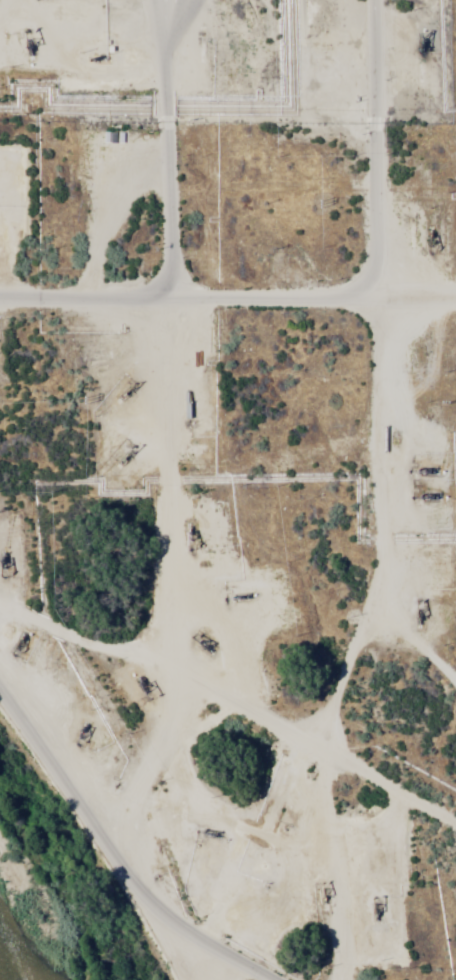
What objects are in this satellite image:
road: (374, 150)
road: (189, 303)
road: (417, 314)
road: (157, 509)
road: (323, 638)
road: (114, 849)
river: (0, 979)

